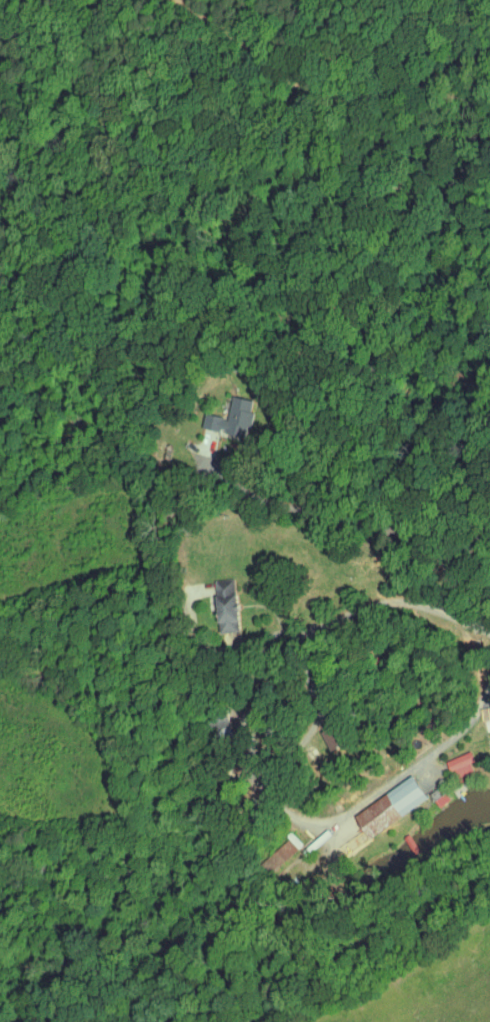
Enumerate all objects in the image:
building: (232, 416)
road: (376, 526)
road: (465, 545)
building: (229, 604)
road: (297, 632)
road: (316, 724)
building: (338, 735)
road: (252, 748)
building: (463, 766)
road: (391, 786)
building: (393, 805)

